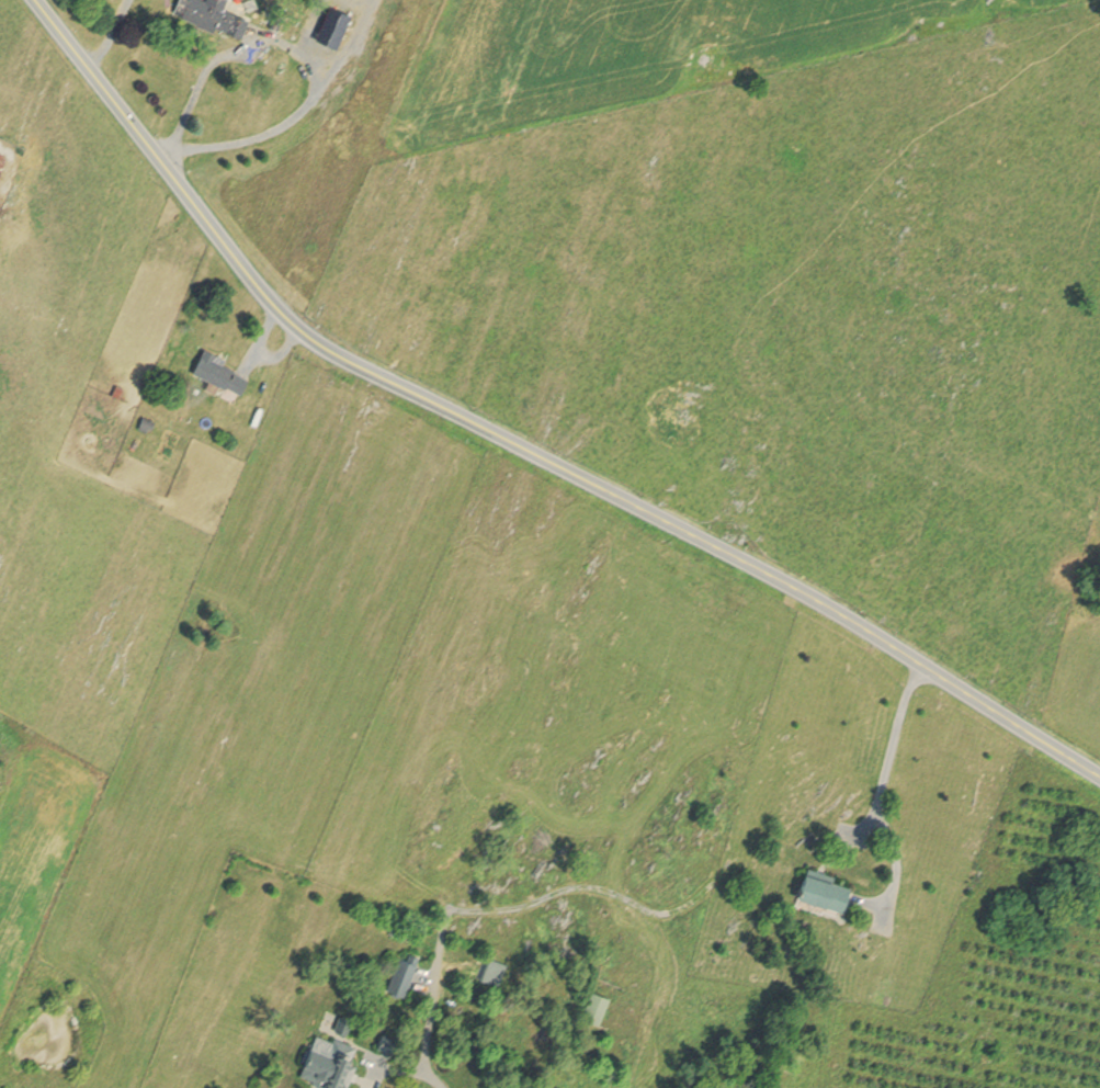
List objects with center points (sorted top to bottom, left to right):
road: (202, 83)
road: (285, 124)
road: (520, 442)
road: (894, 746)
road: (407, 1068)

